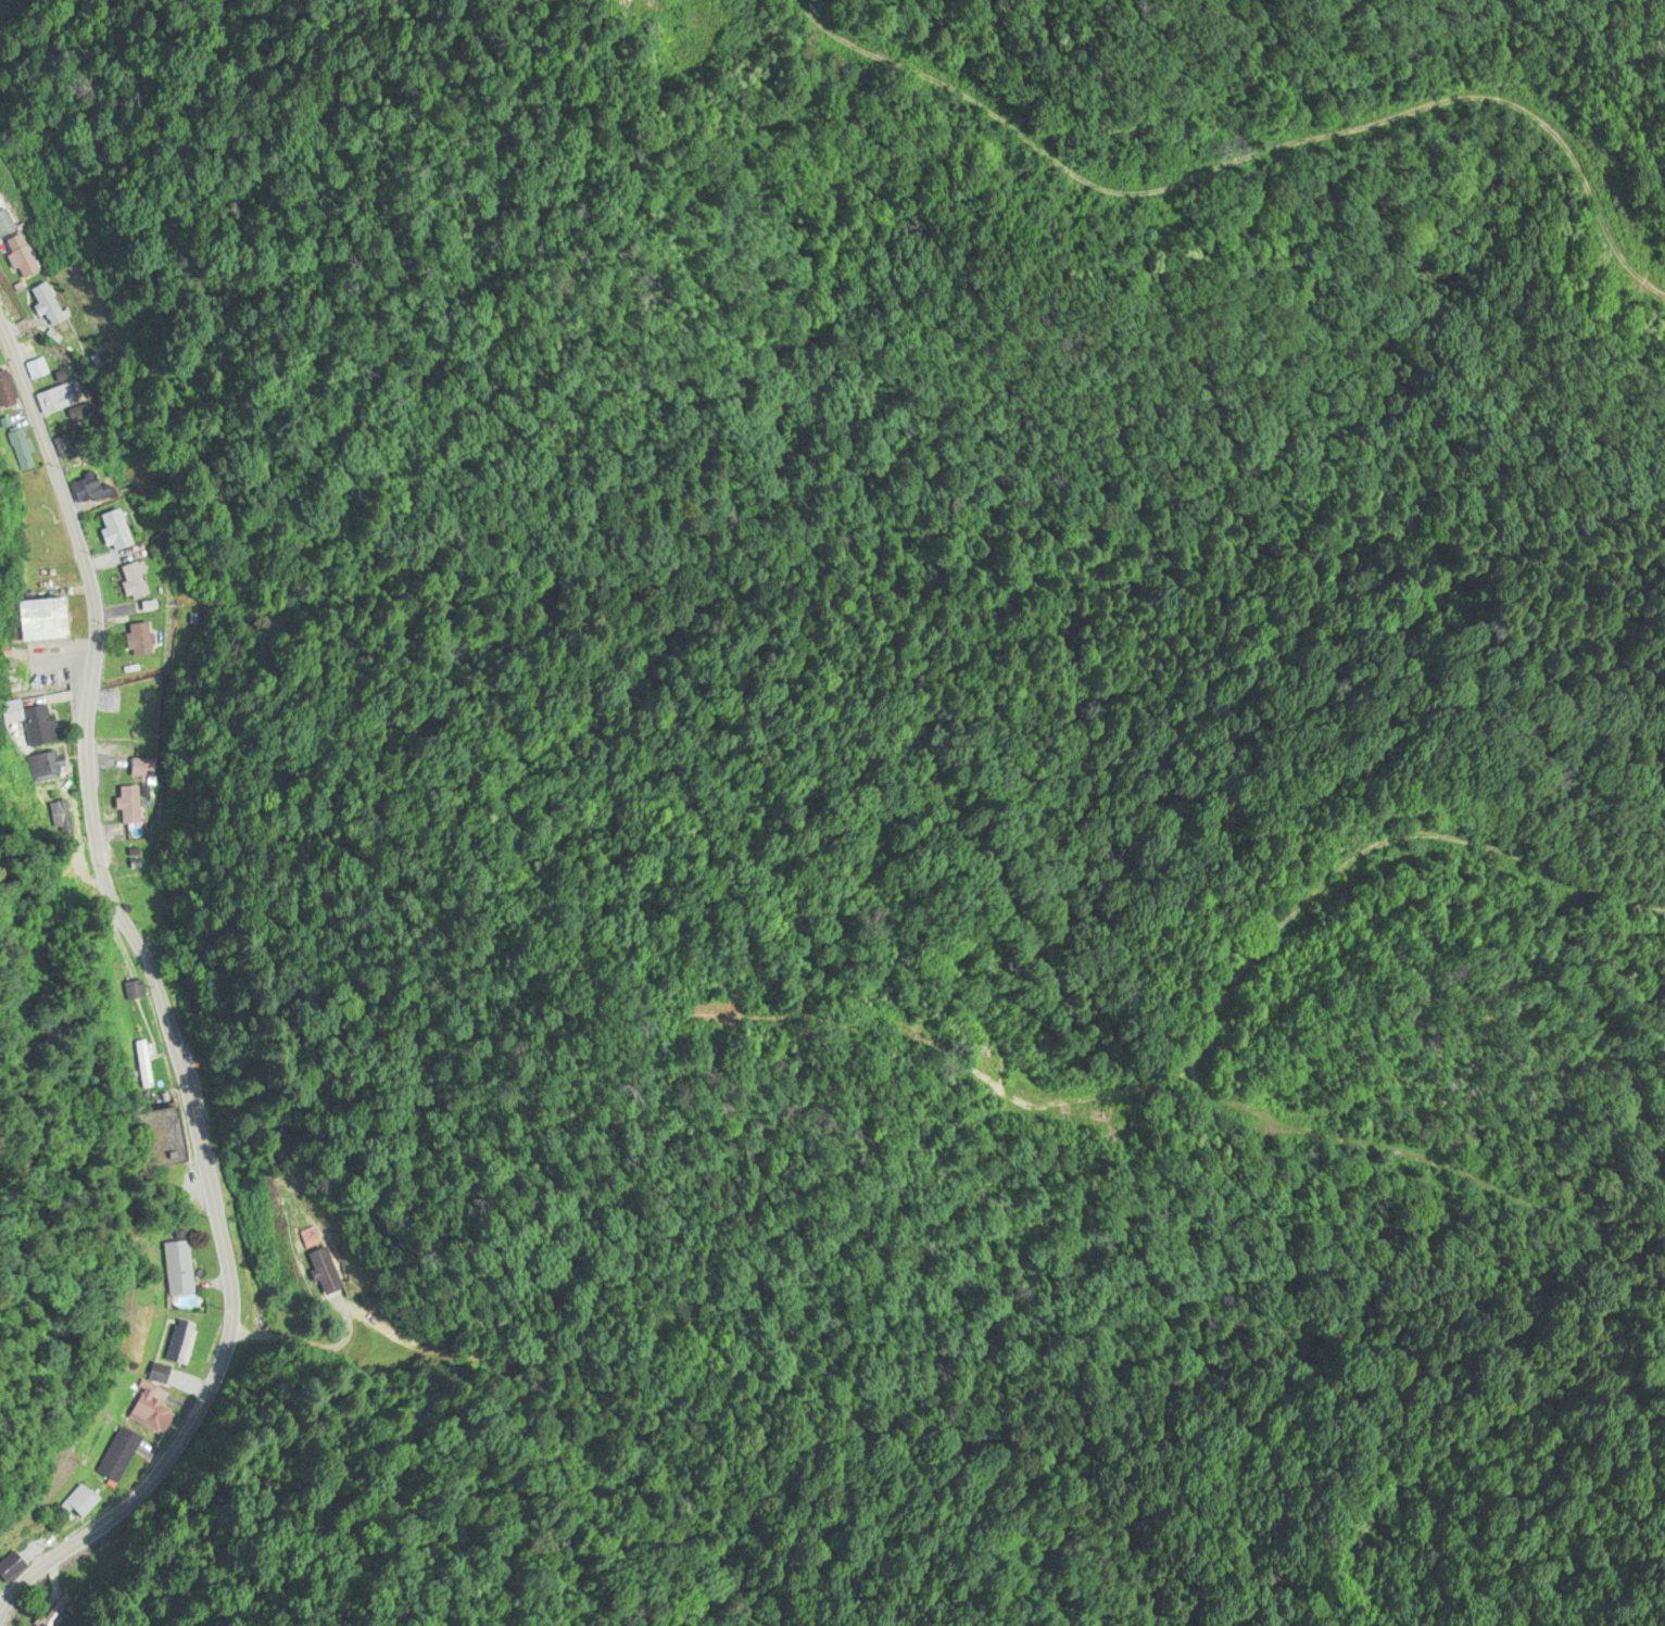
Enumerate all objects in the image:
building: (5, 223)
building: (17, 256)
building: (41, 305)
building: (35, 368)
building: (54, 399)
building: (20, 450)
building: (90, 496)
building: (109, 531)
building: (40, 533)
building: (41, 580)
building: (129, 580)
building: (34, 620)
building: (131, 640)
building: (29, 723)
building: (42, 767)
building: (143, 769)
building: (125, 806)
building: (61, 823)
building: (140, 885)
building: (130, 991)
road: (159, 998)
building: (141, 1064)
building: (306, 1240)
building: (174, 1268)
building: (318, 1272)
building: (174, 1343)
building: (113, 1457)
building: (71, 1502)

